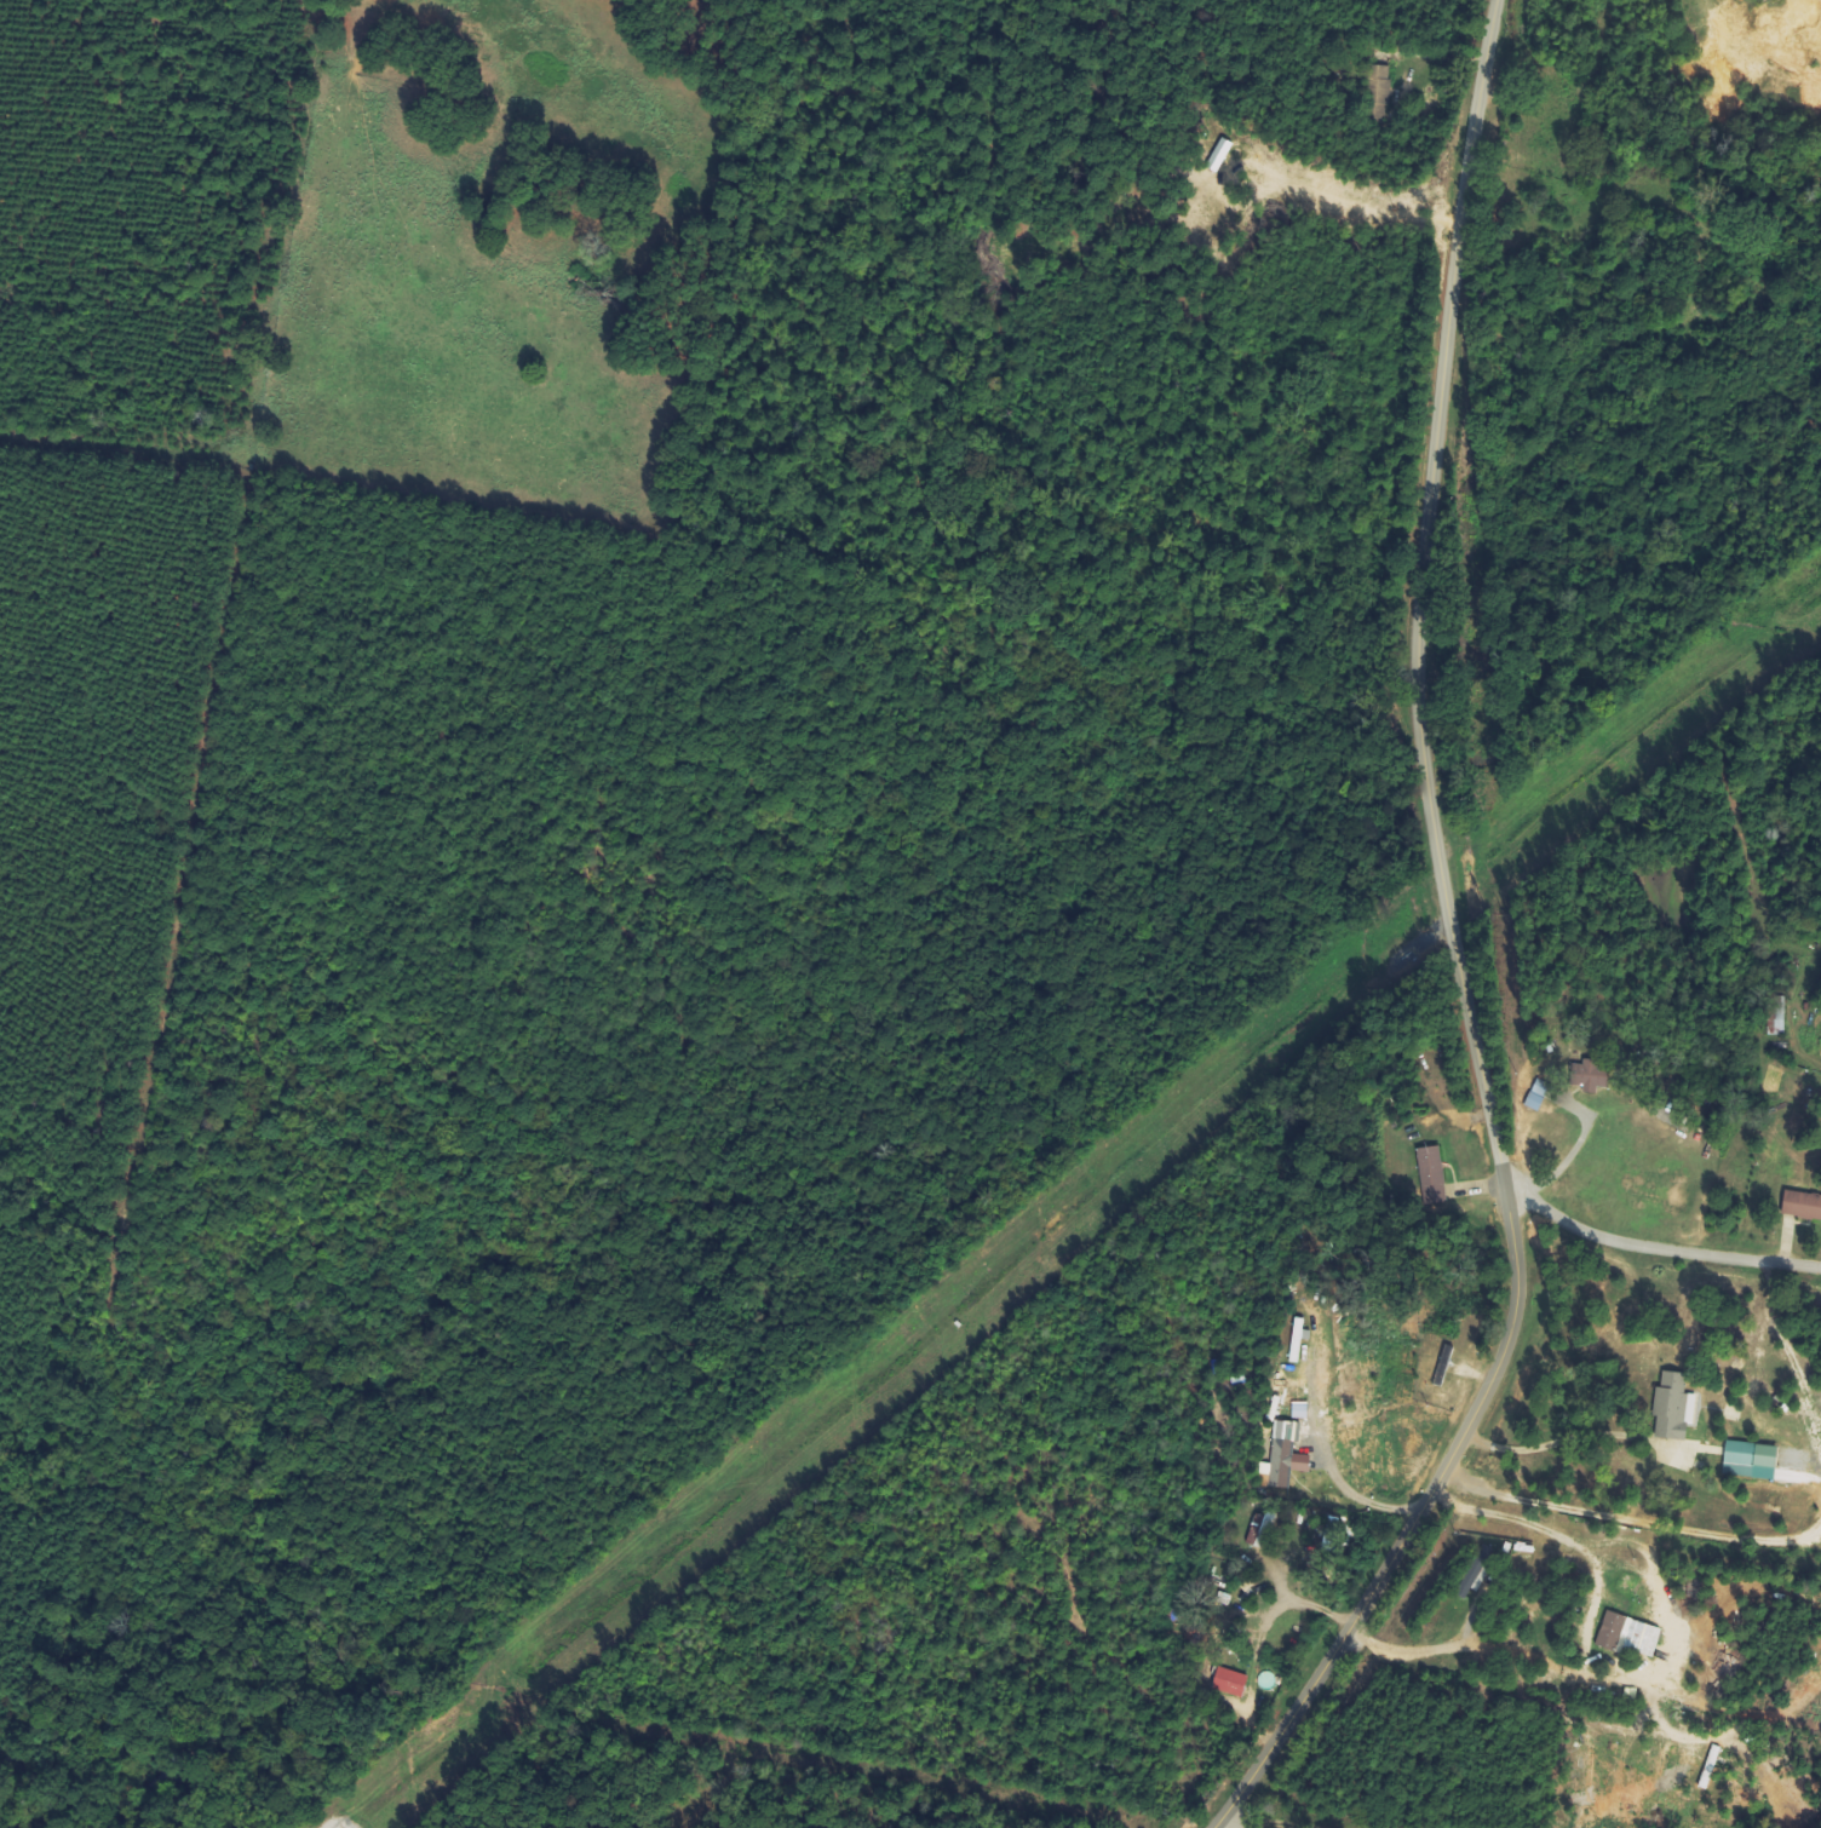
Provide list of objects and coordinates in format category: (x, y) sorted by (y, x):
road: (1458, 954)
building: (1779, 1016)
building: (1592, 1075)
building: (1434, 1167)
building: (1803, 1205)
road: (1656, 1248)
building: (1676, 1409)
building: (1291, 1454)
building: (1751, 1458)
building: (1263, 1530)
building: (1476, 1571)
building: (1631, 1636)
building: (1233, 1683)
road: (1234, 1822)

